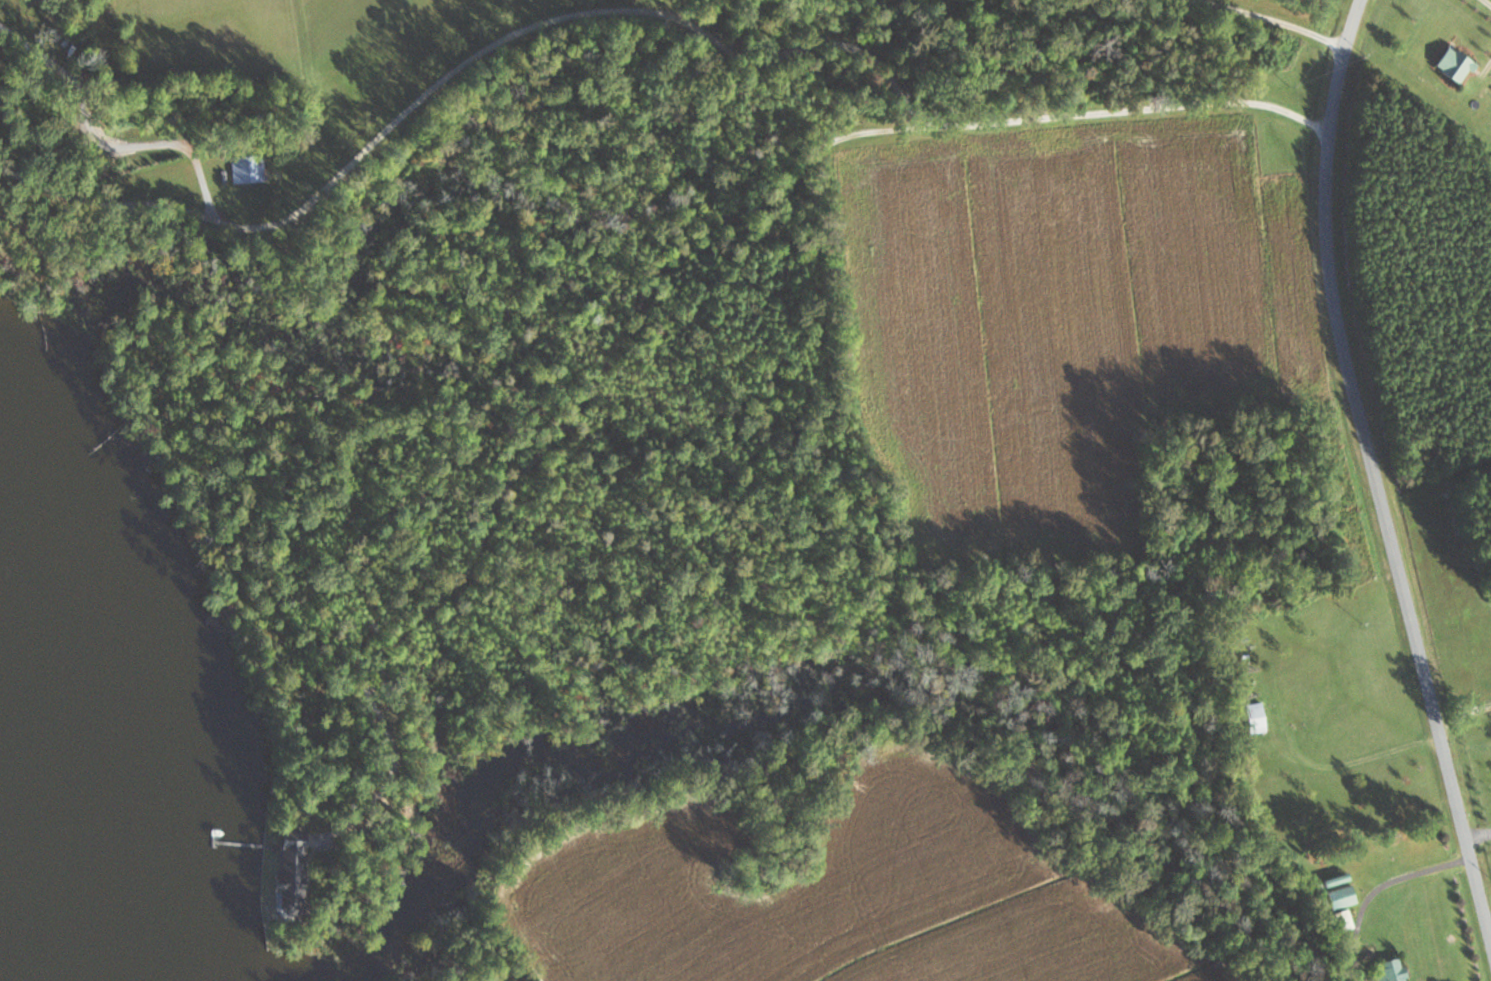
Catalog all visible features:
road: (1489, 1)
road: (1265, 19)
building: (1452, 64)
road: (1096, 112)
building: (246, 169)
road: (1374, 466)
building: (1295, 711)
road: (1464, 712)
building: (1254, 717)
road: (1377, 887)
building: (1340, 897)
building: (1342, 920)
building: (1389, 971)

